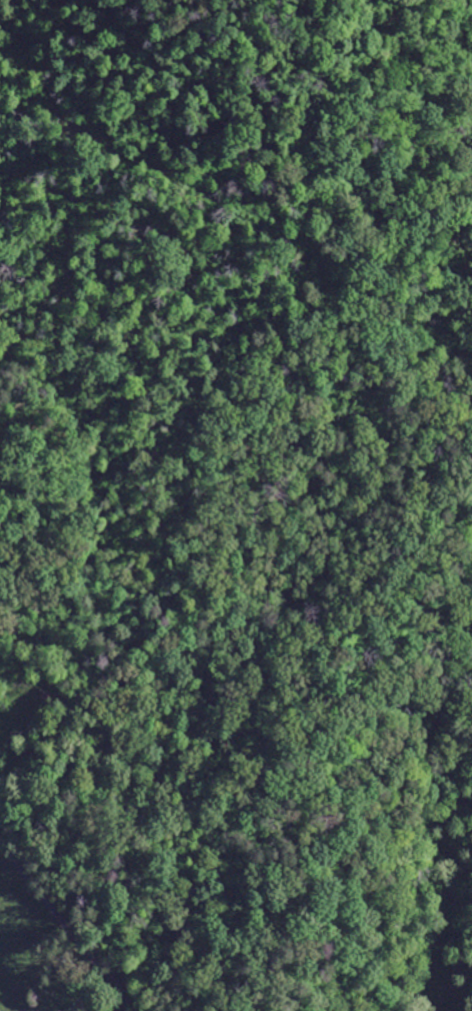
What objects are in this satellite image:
road: (66, 931)

